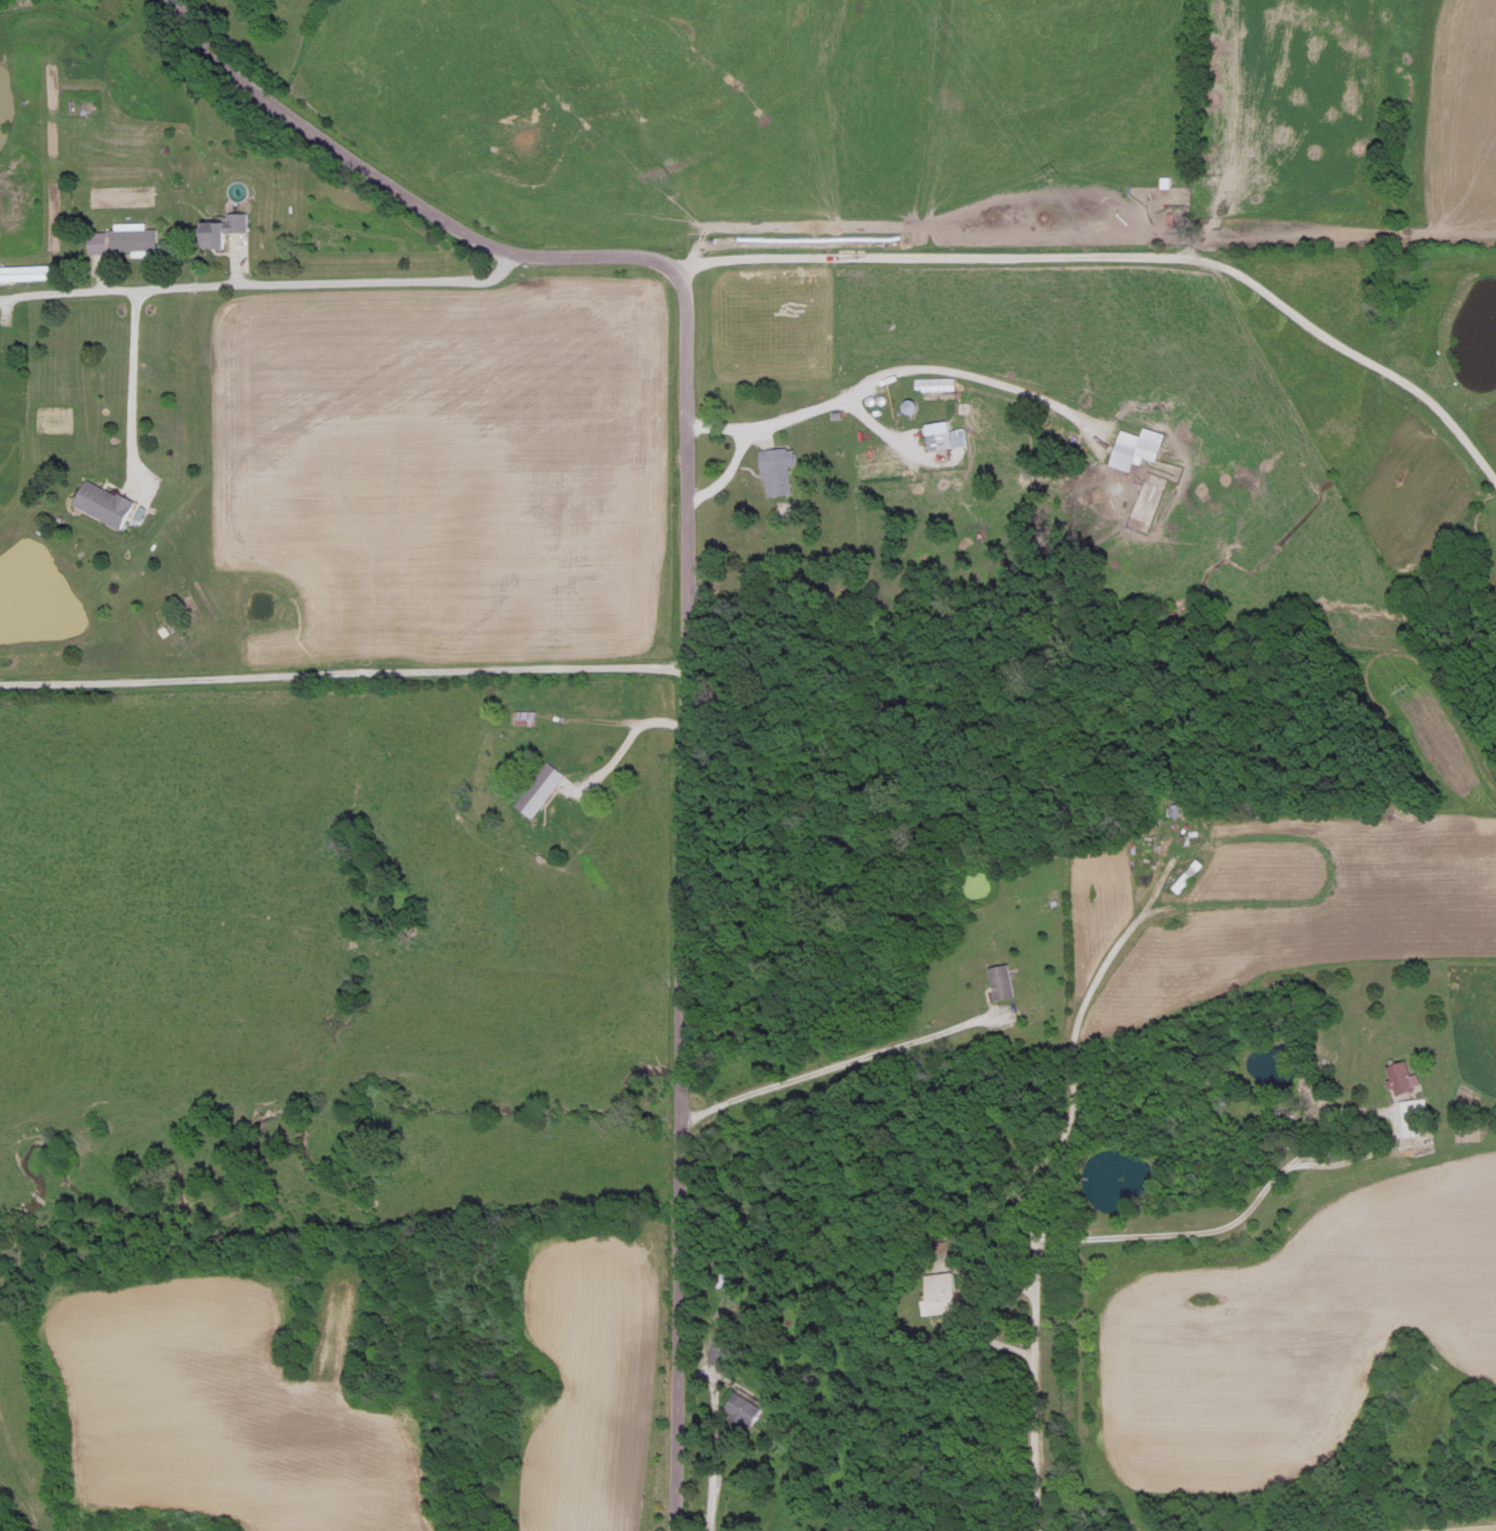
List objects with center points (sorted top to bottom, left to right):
building: (222, 227)
building: (123, 238)
road: (1122, 254)
building: (46, 271)
road: (261, 285)
road: (892, 372)
building: (933, 383)
road: (131, 389)
road: (877, 428)
building: (942, 435)
building: (1134, 447)
building: (776, 469)
road: (726, 473)
building: (103, 502)
road: (685, 600)
road: (341, 672)
building: (523, 716)
road: (590, 719)
road: (621, 750)
building: (500, 769)
building: (538, 788)
building: (999, 980)
road: (1072, 1037)
building: (1324, 1041)
road: (831, 1065)
building: (1401, 1075)
building: (1412, 1111)
road: (1391, 1142)
road: (1069, 1238)
building: (727, 1280)
building: (939, 1292)
building: (742, 1407)
road: (714, 1463)
road: (1462, 1528)

